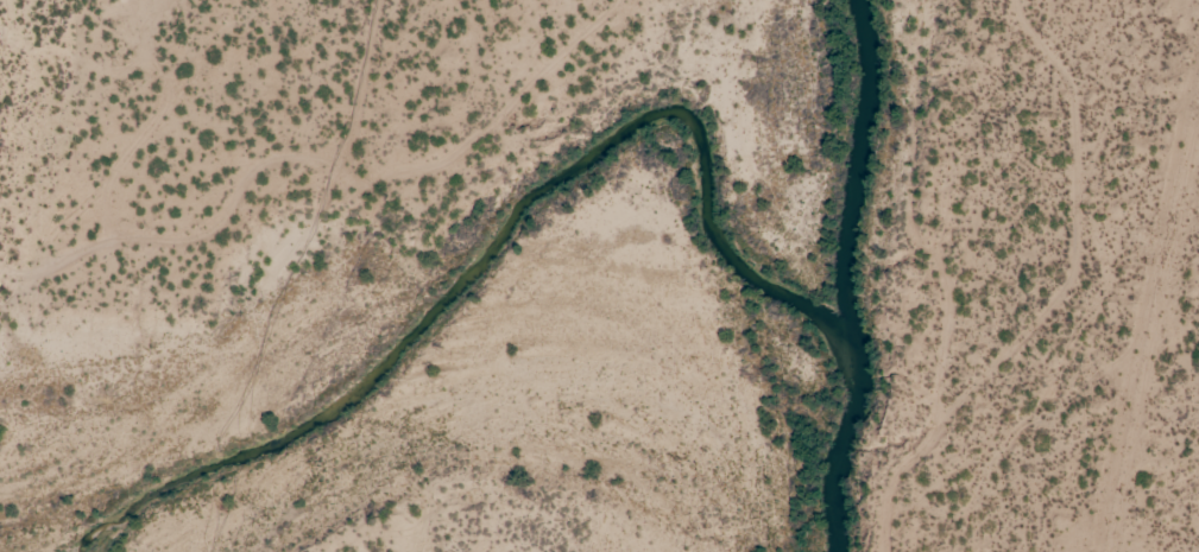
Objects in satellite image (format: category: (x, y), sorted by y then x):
river: (843, 278)

